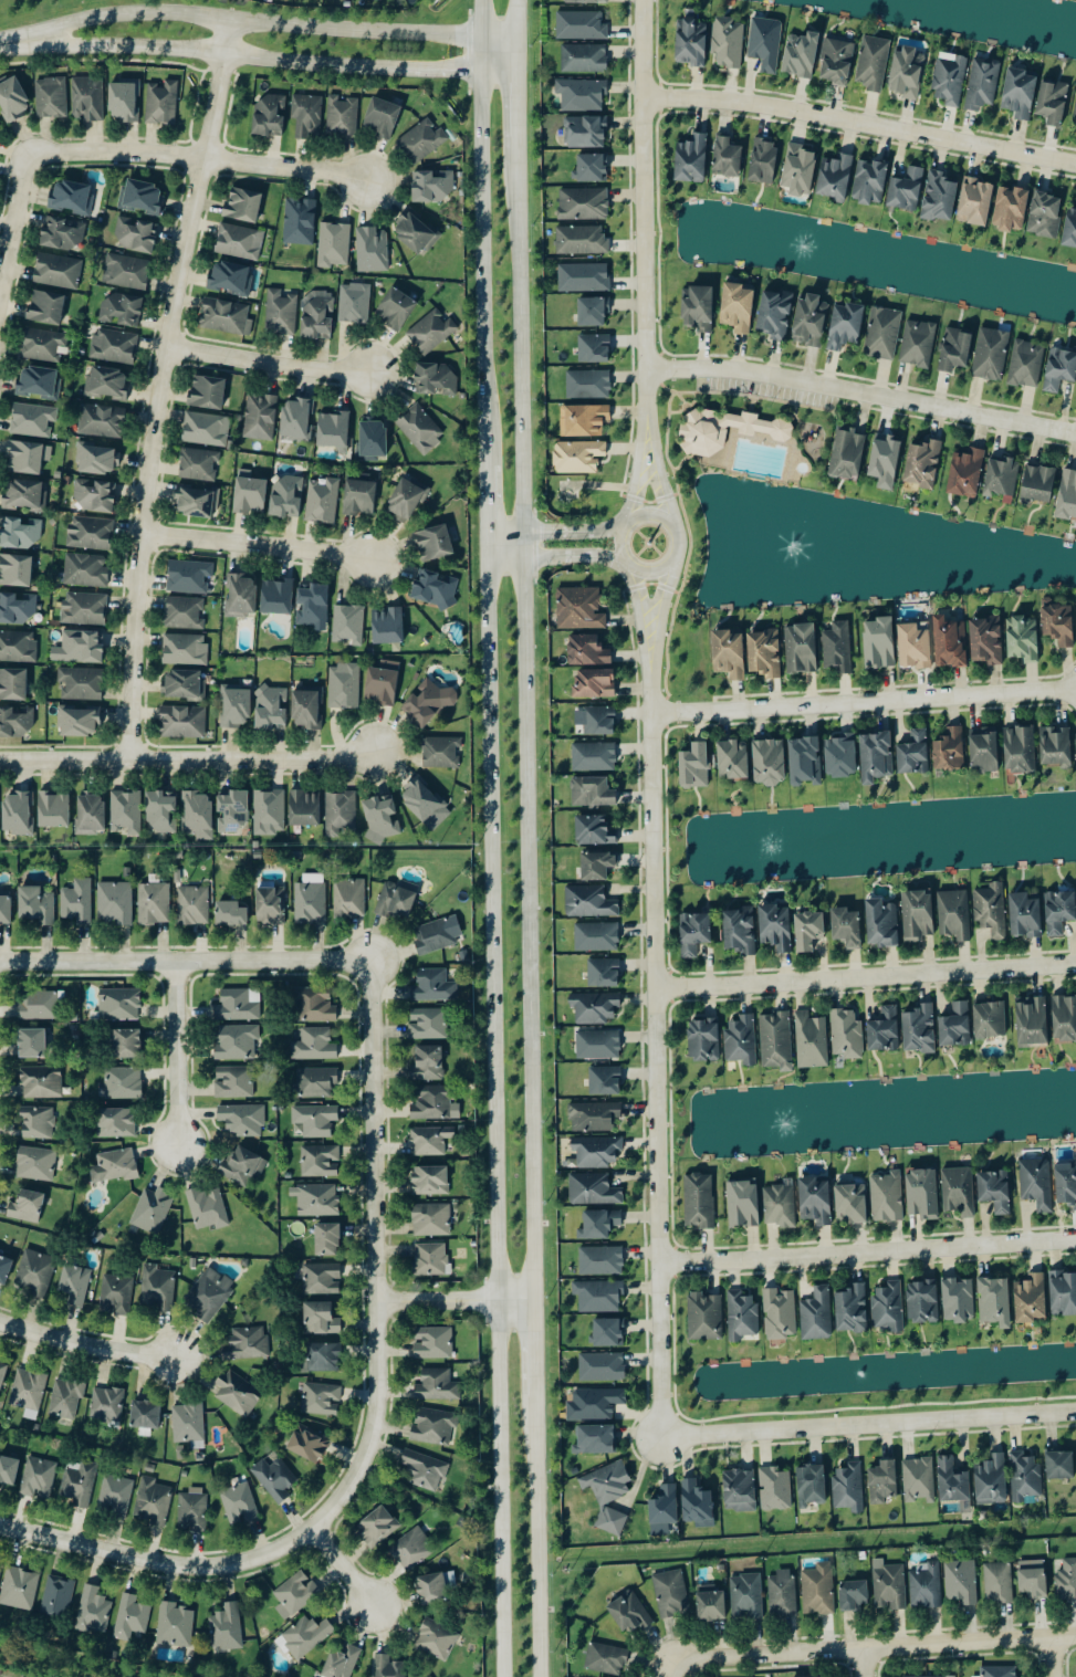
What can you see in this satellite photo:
building: (586, 1)
road: (479, 17)
road: (516, 18)
road: (251, 21)
building: (582, 25)
road: (498, 35)
building: (728, 41)
road: (14, 42)
building: (691, 42)
building: (766, 42)
building: (801, 53)
road: (479, 54)
road: (253, 55)
road: (516, 55)
building: (584, 57)
building: (836, 60)
building: (874, 62)
building: (908, 71)
road: (498, 74)
building: (950, 80)
building: (982, 83)
building: (1020, 92)
building: (583, 94)
building: (52, 97)
building: (88, 97)
building: (13, 98)
building: (124, 101)
building: (1053, 101)
building: (163, 102)
building: (270, 115)
building: (307, 115)
building: (342, 116)
building: (382, 117)
road: (518, 117)
building: (1075, 119)
road: (858, 125)
building: (586, 130)
building: (422, 140)
road: (114, 151)
building: (728, 156)
building: (691, 158)
building: (763, 160)
building: (592, 166)
building: (800, 169)
building: (835, 176)
building: (870, 181)
building: (433, 185)
building: (906, 189)
building: (72, 196)
building: (142, 197)
building: (939, 197)
building: (975, 201)
building: (584, 203)
building: (242, 205)
building: (1011, 208)
building: (1045, 213)
road: (643, 214)
building: (300, 220)
building: (1070, 228)
building: (63, 233)
building: (415, 233)
building: (136, 234)
building: (582, 240)
building: (240, 241)
building: (334, 244)
fountain: (801, 248)
building: (373, 249)
road: (481, 270)
building: (58, 271)
building: (126, 271)
building: (230, 276)
building: (584, 276)
building: (354, 302)
building: (45, 306)
building: (395, 307)
building: (699, 307)
building: (738, 307)
building: (122, 308)
building: (593, 311)
building: (280, 312)
building: (775, 313)
building: (317, 315)
building: (226, 316)
building: (809, 319)
building: (845, 325)
building: (431, 331)
building: (884, 332)
building: (918, 343)
building: (44, 345)
building: (115, 346)
building: (594, 348)
building: (955, 348)
building: (991, 354)
road: (272, 364)
building: (1026, 364)
building: (1059, 368)
building: (436, 379)
building: (41, 382)
building: (108, 382)
building: (589, 384)
road: (164, 387)
building: (208, 391)
road: (861, 392)
building: (261, 417)
building: (297, 418)
building: (33, 419)
building: (102, 420)
building: (584, 420)
building: (420, 428)
building: (207, 429)
building: (727, 429)
building: (373, 438)
building: (847, 452)
building: (578, 455)
building: (28, 457)
building: (98, 460)
building: (885, 460)
building: (923, 463)
building: (199, 464)
building: (967, 472)
road: (635, 476)
building: (1002, 476)
road: (664, 481)
building: (1038, 483)
building: (249, 492)
building: (24, 494)
building: (96, 495)
building: (286, 495)
building: (1067, 496)
building: (359, 497)
building: (406, 499)
building: (322, 500)
building: (196, 501)
road: (487, 505)
road: (555, 531)
building: (19, 533)
building: (91, 533)
building: (433, 543)
road: (260, 547)
fountain: (814, 549)
road: (556, 556)
road: (648, 566)
building: (15, 569)
building: (86, 569)
building: (188, 576)
building: (436, 588)
building: (241, 595)
building: (278, 597)
road: (666, 602)
building: (312, 604)
building: (17, 607)
road: (637, 607)
building: (84, 608)
building: (581, 608)
building: (185, 612)
building: (349, 623)
building: (1058, 623)
building: (388, 626)
building: (1023, 638)
building: (986, 640)
building: (879, 642)
building: (950, 642)
building: (915, 646)
building: (18, 647)
building: (80, 647)
building: (838, 647)
building: (801, 648)
building: (185, 649)
building: (587, 650)
building: (729, 653)
building: (764, 653)
building: (81, 683)
building: (383, 683)
building: (595, 683)
building: (13, 684)
building: (184, 684)
building: (344, 685)
building: (429, 702)
road: (863, 703)
building: (236, 708)
building: (271, 708)
building: (306, 710)
building: (597, 720)
building: (17, 722)
building: (80, 722)
building: (182, 722)
road: (525, 729)
building: (1056, 746)
building: (1020, 748)
building: (950, 750)
building: (984, 751)
building: (441, 752)
building: (913, 753)
building: (842, 755)
building: (876, 756)
building: (594, 757)
road: (190, 758)
building: (732, 758)
building: (805, 761)
building: (769, 762)
building: (693, 766)
building: (593, 792)
building: (425, 804)
building: (304, 808)
building: (53, 809)
building: (233, 810)
building: (161, 811)
building: (269, 811)
building: (339, 811)
building: (18, 813)
building: (126, 813)
building: (91, 814)
building: (199, 814)
building: (382, 818)
building: (594, 830)
fountain: (785, 845)
building: (597, 864)
building: (126, 872)
building: (349, 897)
building: (398, 899)
building: (77, 901)
building: (311, 901)
building: (589, 902)
building: (114, 903)
building: (154, 904)
building: (36, 905)
building: (194, 905)
building: (271, 905)
building: (6, 910)
building: (992, 910)
building: (1059, 911)
building: (231, 914)
building: (954, 914)
building: (918, 915)
building: (1025, 915)
road: (492, 922)
building: (881, 923)
building: (846, 926)
building: (775, 927)
building: (739, 930)
building: (808, 930)
building: (694, 933)
building: (437, 934)
building: (596, 936)
road: (186, 960)
building: (604, 973)
road: (865, 978)
building: (432, 986)
building: (119, 1005)
building: (315, 1005)
building: (36, 1006)
building: (237, 1006)
building: (595, 1007)
building: (1064, 1018)
building: (990, 1019)
building: (1032, 1021)
building: (428, 1024)
building: (955, 1026)
building: (920, 1029)
building: (885, 1030)
building: (847, 1035)
building: (704, 1039)
building: (742, 1039)
building: (812, 1040)
building: (776, 1041)
building: (237, 1042)
building: (32, 1044)
building: (126, 1044)
building: (314, 1045)
building: (598, 1045)
road: (655, 1046)
road: (176, 1055)
building: (428, 1063)
building: (317, 1081)
building: (605, 1081)
building: (42, 1082)
building: (234, 1082)
building: (124, 1083)
building: (435, 1104)
building: (594, 1117)
building: (242, 1120)
building: (315, 1120)
building: (38, 1122)
building: (116, 1123)
fountain: (790, 1123)
building: (430, 1140)
building: (597, 1151)
building: (321, 1161)
building: (35, 1164)
building: (115, 1166)
building: (242, 1166)
building: (430, 1181)
building: (1037, 1183)
building: (1066, 1186)
building: (594, 1189)
building: (960, 1191)
building: (995, 1191)
building: (922, 1194)
building: (887, 1197)
building: (316, 1199)
building: (700, 1201)
building: (815, 1201)
building: (852, 1203)
building: (743, 1204)
building: (781, 1205)
building: (27, 1207)
building: (208, 1207)
building: (153, 1210)
building: (432, 1219)
building: (599, 1225)
building: (327, 1239)
road: (867, 1250)
road: (376, 1252)
building: (430, 1259)
building: (602, 1261)
building: (244, 1262)
building: (4, 1269)
building: (34, 1274)
building: (322, 1279)
building: (75, 1285)
building: (158, 1287)
building: (1063, 1292)
building: (117, 1293)
building: (209, 1293)
building: (599, 1296)
road: (516, 1299)
building: (1031, 1299)
road: (437, 1300)
building: (959, 1300)
building: (922, 1301)
building: (995, 1302)
building: (888, 1307)
building: (852, 1309)
building: (780, 1314)
building: (817, 1314)
building: (742, 1316)
building: (706, 1317)
building: (321, 1319)
building: (608, 1333)
road: (90, 1340)
road: (534, 1341)
building: (248, 1343)
building: (433, 1343)
building: (324, 1358)
building: (603, 1366)
building: (2, 1372)
fountain: (861, 1375)
building: (438, 1385)
building: (29, 1392)
building: (238, 1394)
building: (66, 1398)
building: (321, 1400)
building: (595, 1404)
building: (107, 1405)
building: (146, 1415)
road: (869, 1424)
building: (189, 1425)
building: (433, 1426)
building: (596, 1439)
building: (307, 1445)
building: (1061, 1466)
building: (8, 1470)
building: (425, 1470)
building: (39, 1477)
building: (1025, 1477)
building: (275, 1479)
building: (919, 1480)
building: (952, 1481)
building: (992, 1481)
building: (884, 1482)
building: (80, 1485)
building: (812, 1486)
building: (849, 1487)
road: (499, 1488)
building: (775, 1489)
building: (740, 1490)
building: (608, 1495)
building: (116, 1496)
building: (154, 1501)
building: (240, 1501)
building: (665, 1507)
building: (194, 1509)
building: (377, 1527)
road: (536, 1530)
building: (412, 1549)
road: (158, 1561)
road: (343, 1564)
building: (0, 1573)
building: (1066, 1581)
building: (962, 1583)
building: (1034, 1583)
building: (997, 1584)
building: (889, 1586)
building: (926, 1586)
building: (20, 1589)
building: (431, 1590)
building: (817, 1590)
building: (673, 1593)
building: (782, 1593)
building: (296, 1594)
building: (855, 1595)
building: (746, 1596)
building: (58, 1597)
building: (711, 1606)
building: (94, 1611)
building: (629, 1614)
building: (130, 1617)
building: (175, 1625)
building: (227, 1627)
building: (304, 1637)
building: (436, 1639)
road: (874, 1647)
road: (1049, 1656)
building: (607, 1658)
building: (342, 1663)
road: (866, 1663)
building: (388, 1667)
road: (672, 1669)
building: (1002, 1673)
building: (924, 1676)
building: (951, 1676)

